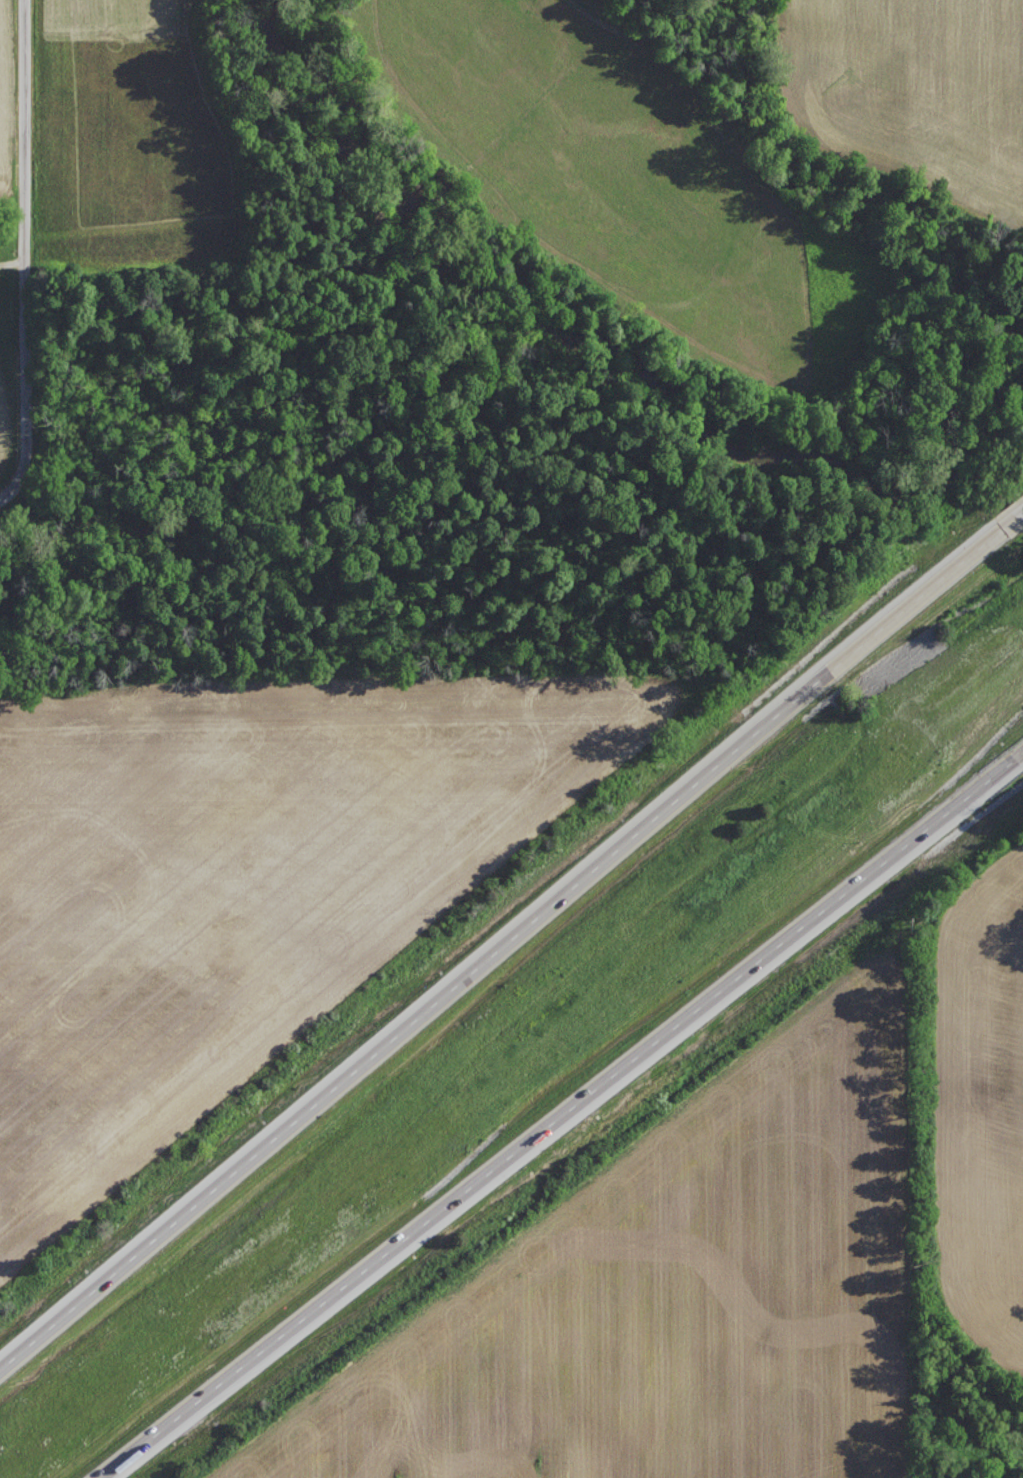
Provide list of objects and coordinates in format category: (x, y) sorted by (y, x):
road: (25, 255)
road: (1013, 522)
road: (500, 945)
road: (564, 1119)

